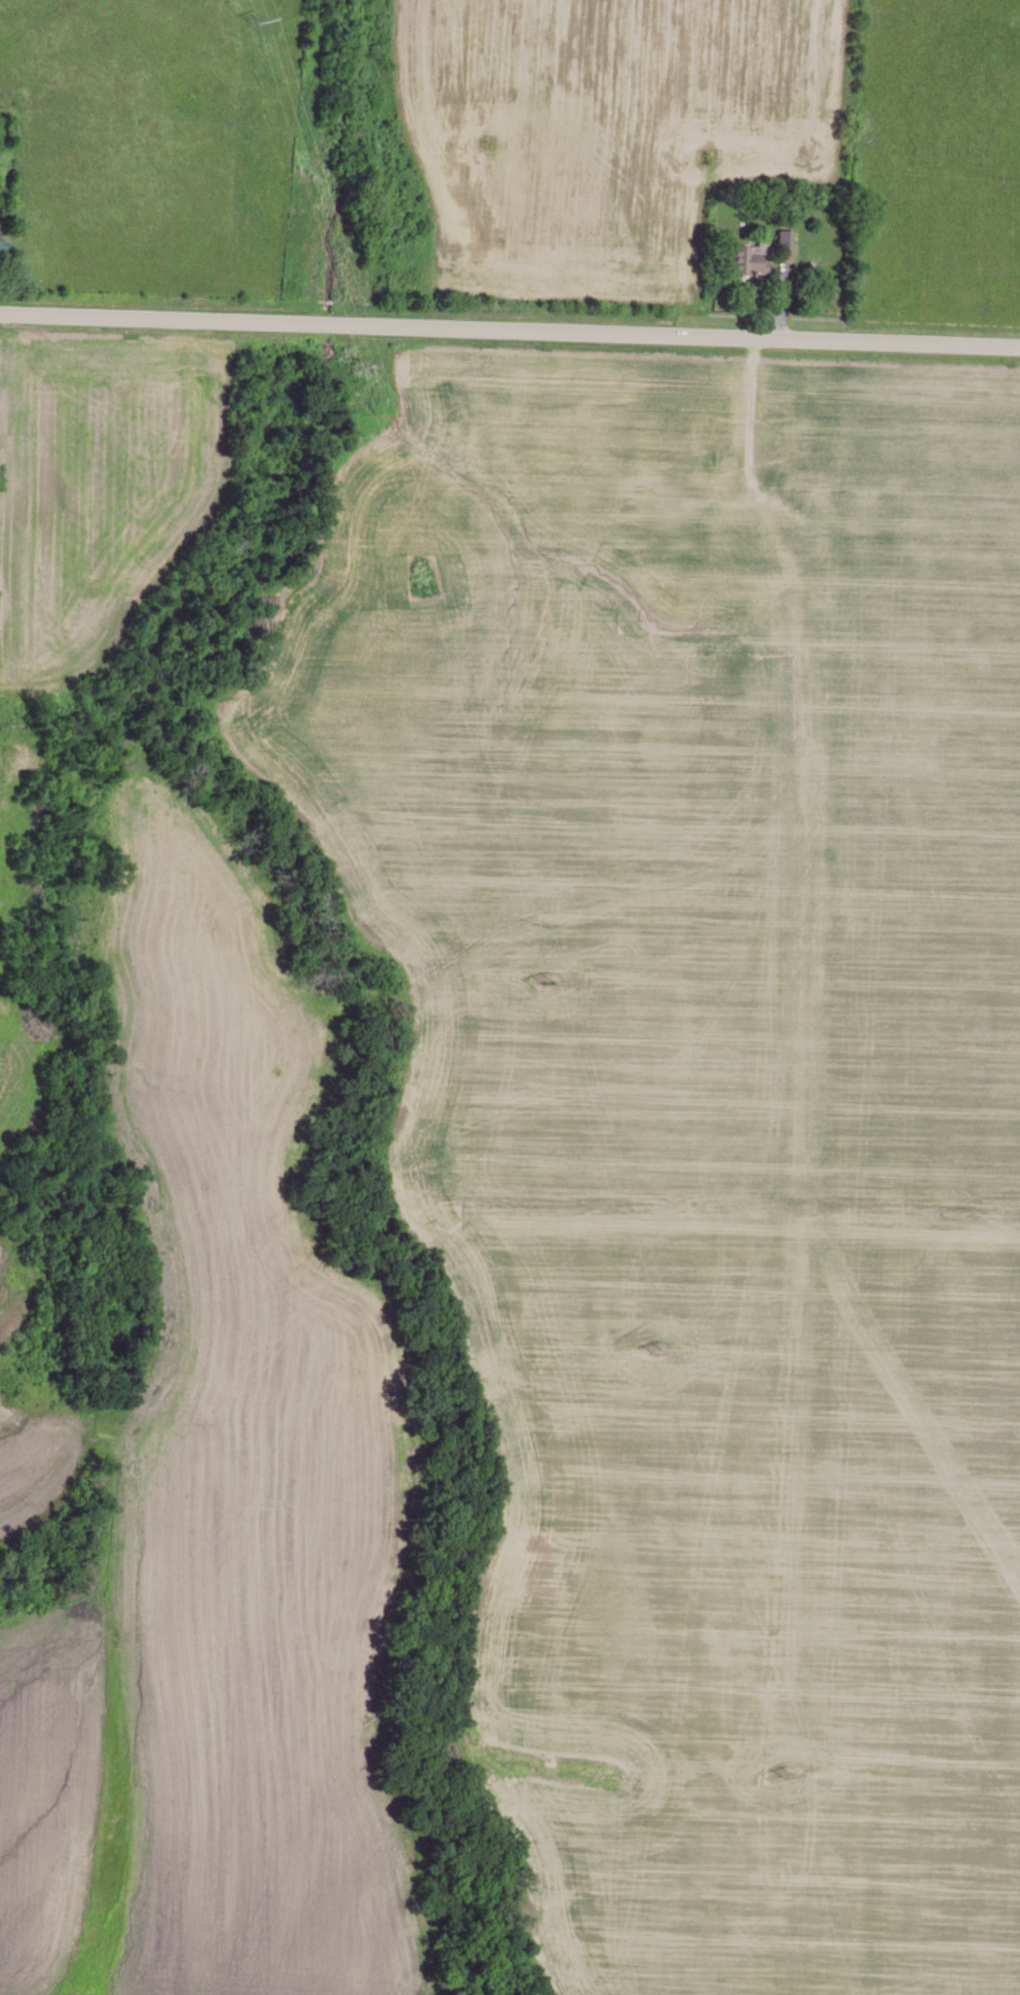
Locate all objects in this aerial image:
power tower: (251, 19)
building: (783, 247)
building: (744, 261)
road: (509, 331)
power tower: (356, 366)
road: (750, 429)
building: (806, 491)
building: (861, 500)
power tower: (427, 595)
power tower: (545, 980)
power tower: (664, 1353)
power tower: (787, 1774)

